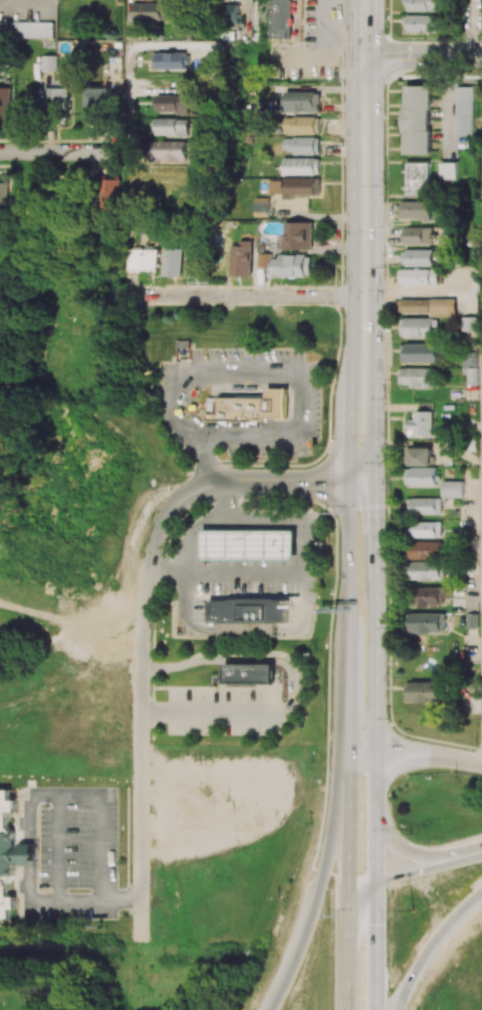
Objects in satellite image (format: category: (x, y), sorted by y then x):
building: (422, 5)
building: (231, 10)
building: (148, 11)
road: (128, 12)
road: (245, 17)
building: (278, 18)
building: (421, 23)
road: (364, 28)
building: (4, 29)
road: (471, 29)
building: (33, 30)
street lamp: (343, 57)
road: (417, 58)
road: (477, 58)
building: (170, 60)
building: (49, 64)
road: (214, 70)
street lamp: (420, 71)
building: (60, 94)
building: (303, 101)
building: (5, 102)
building: (97, 102)
building: (173, 103)
road: (130, 107)
building: (466, 111)
building: (419, 119)
building: (301, 125)
building: (173, 127)
building: (303, 145)
building: (170, 151)
street lamp: (385, 151)
road: (65, 152)
building: (301, 166)
building: (450, 170)
building: (173, 175)
building: (419, 179)
building: (294, 187)
building: (111, 194)
building: (3, 198)
building: (261, 207)
building: (416, 210)
road: (362, 224)
building: (297, 235)
building: (417, 235)
building: (419, 257)
building: (142, 259)
building: (241, 259)
building: (263, 260)
building: (171, 262)
building: (192, 262)
building: (293, 265)
building: (420, 276)
street lamp: (337, 284)
road: (244, 296)
building: (429, 307)
building: (470, 323)
building: (421, 327)
building: (421, 353)
building: (472, 368)
road: (275, 370)
building: (417, 377)
road: (5, 379)
street lamp: (385, 397)
building: (248, 407)
building: (422, 424)
road: (360, 437)
street lamp: (324, 447)
building: (423, 456)
road: (207, 468)
building: (422, 476)
traffic signals: (359, 483)
building: (453, 489)
building: (425, 506)
street lamp: (325, 513)
building: (427, 529)
road: (196, 532)
road: (373, 533)
street lamp: (386, 540)
building: (248, 544)
building: (427, 550)
road: (348, 558)
road: (303, 569)
building: (429, 571)
building: (431, 596)
building: (248, 611)
road: (141, 623)
building: (429, 623)
street lamp: (387, 626)
building: (248, 629)
road: (240, 655)
road: (375, 669)
building: (248, 673)
building: (425, 691)
road: (349, 694)
road: (213, 714)
street lamp: (389, 717)
road: (363, 753)
building: (61, 754)
road: (429, 756)
road: (376, 785)
road: (30, 794)
road: (348, 830)
street lamp: (410, 834)
road: (406, 848)
building: (6, 853)
road: (466, 853)
building: (26, 854)
traffic signals: (348, 874)
road: (392, 874)
traffic signals: (394, 874)
road: (320, 885)
road: (120, 899)
traffic signals: (376, 908)
street lamp: (413, 910)
road: (376, 913)
street lamp: (328, 915)
road: (431, 944)
street lamp: (276, 957)
road: (348, 959)

